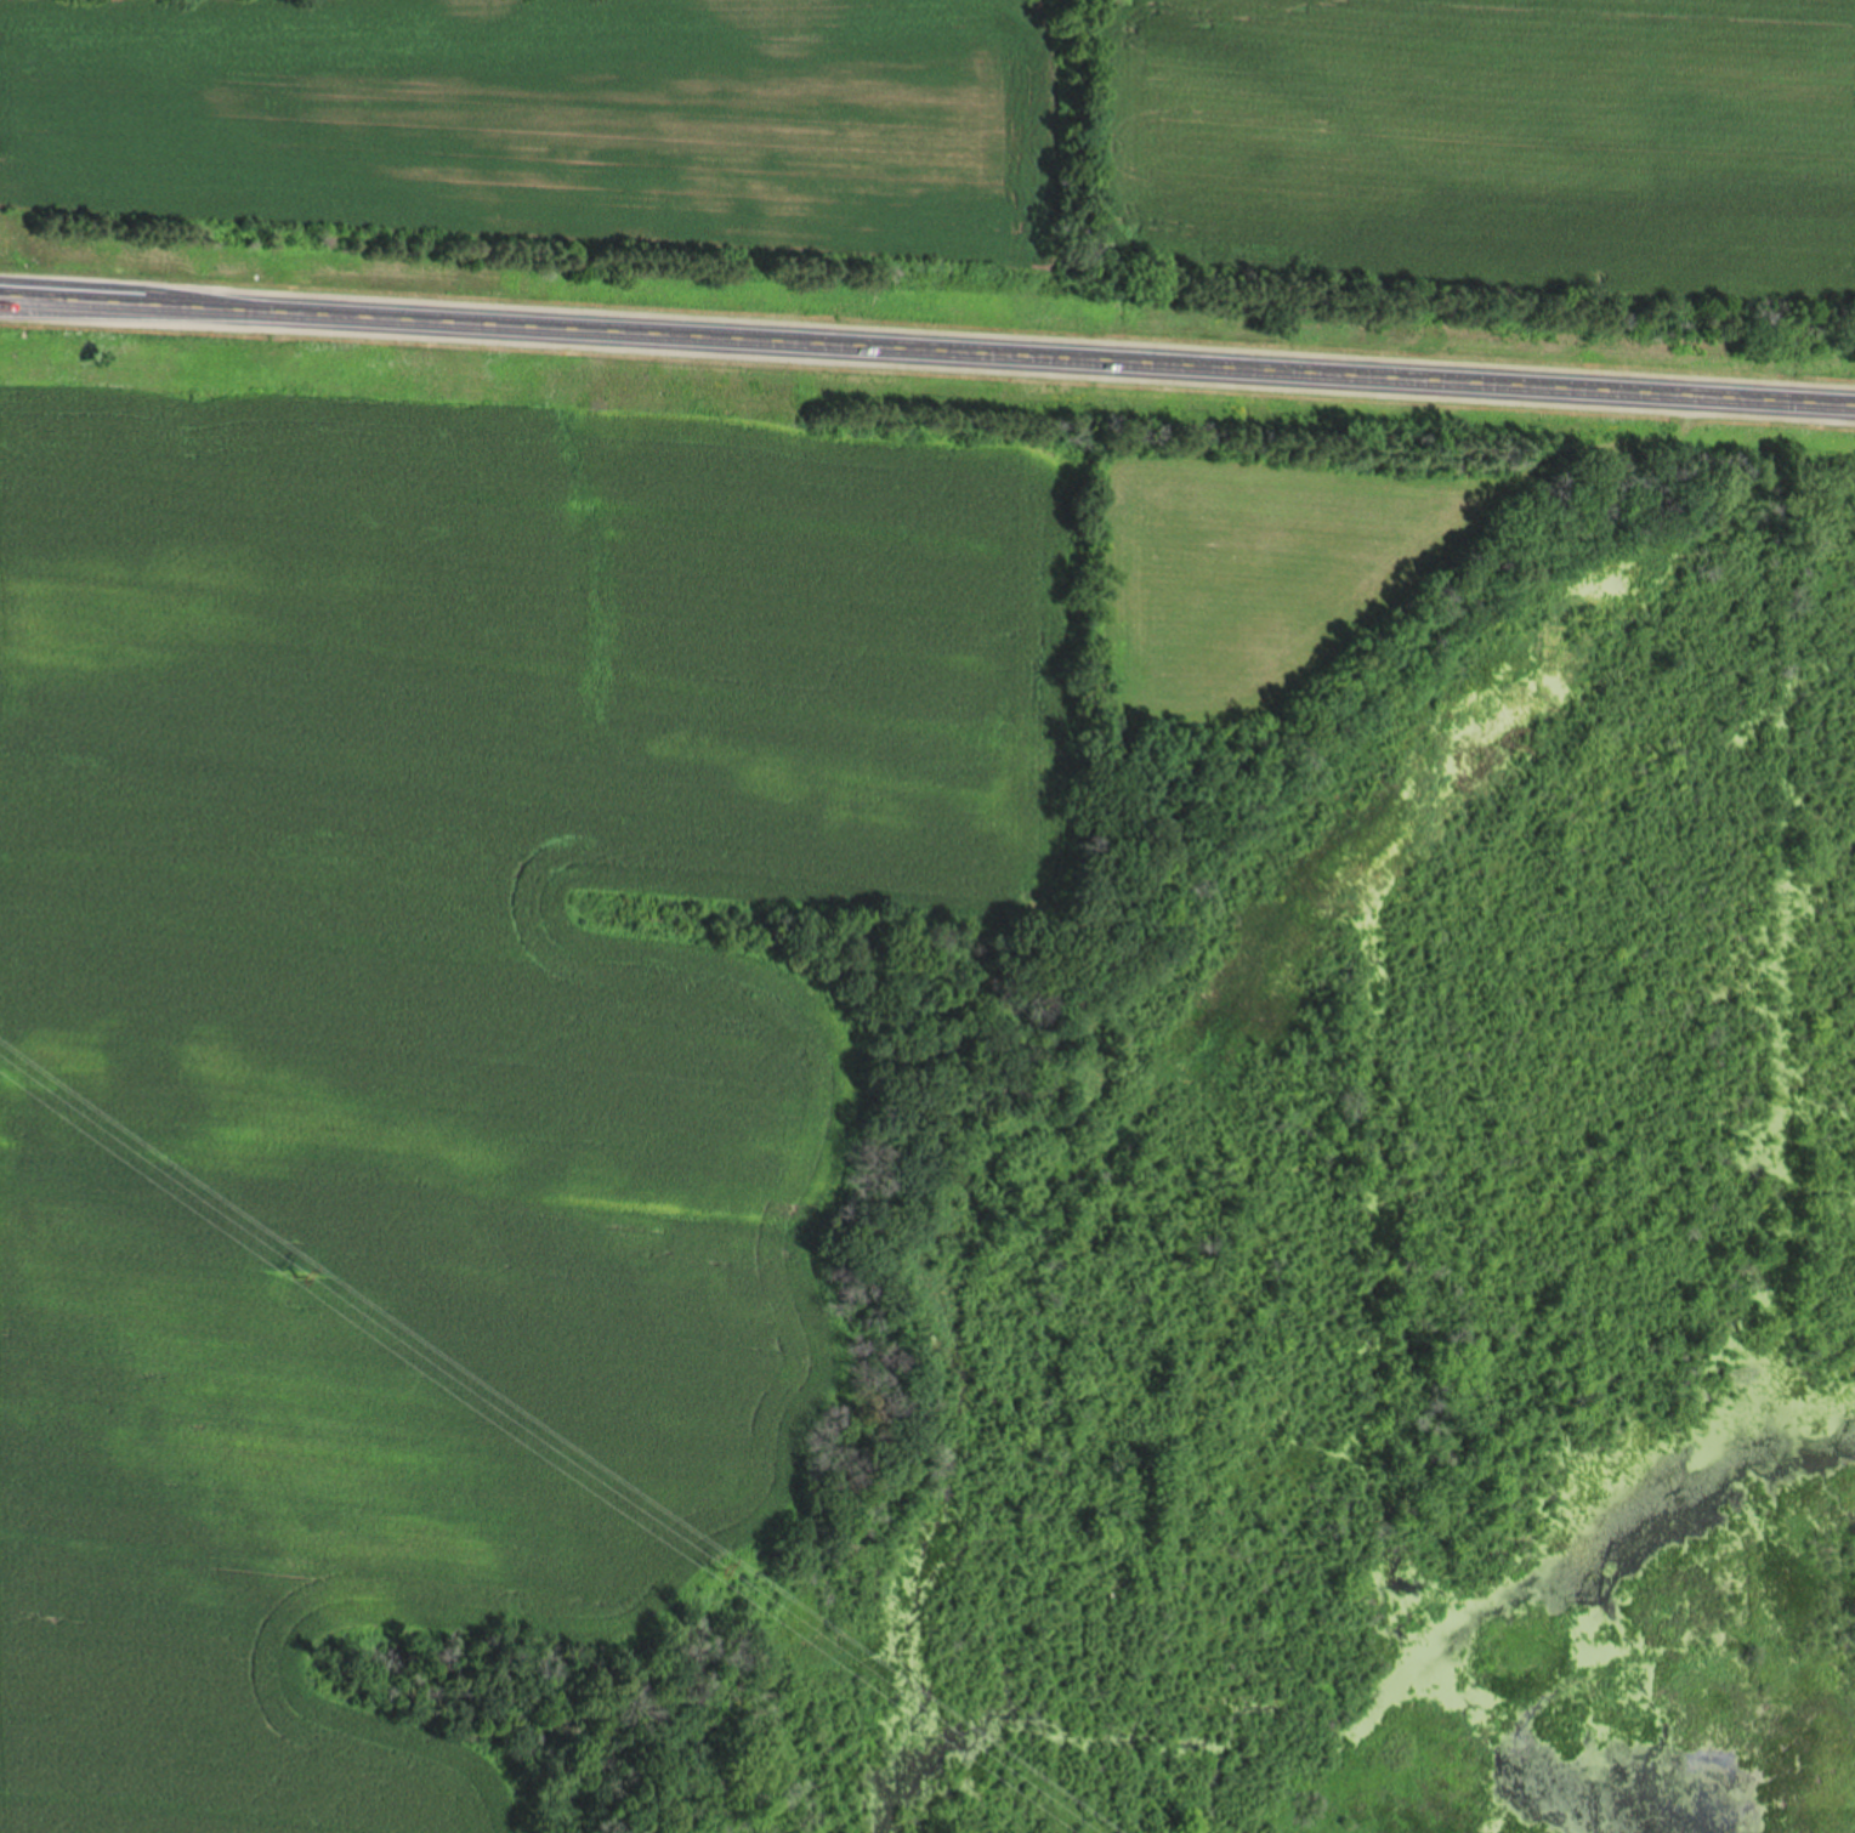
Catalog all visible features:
road: (927, 352)
power tower: (294, 1275)
power tower: (715, 1567)

